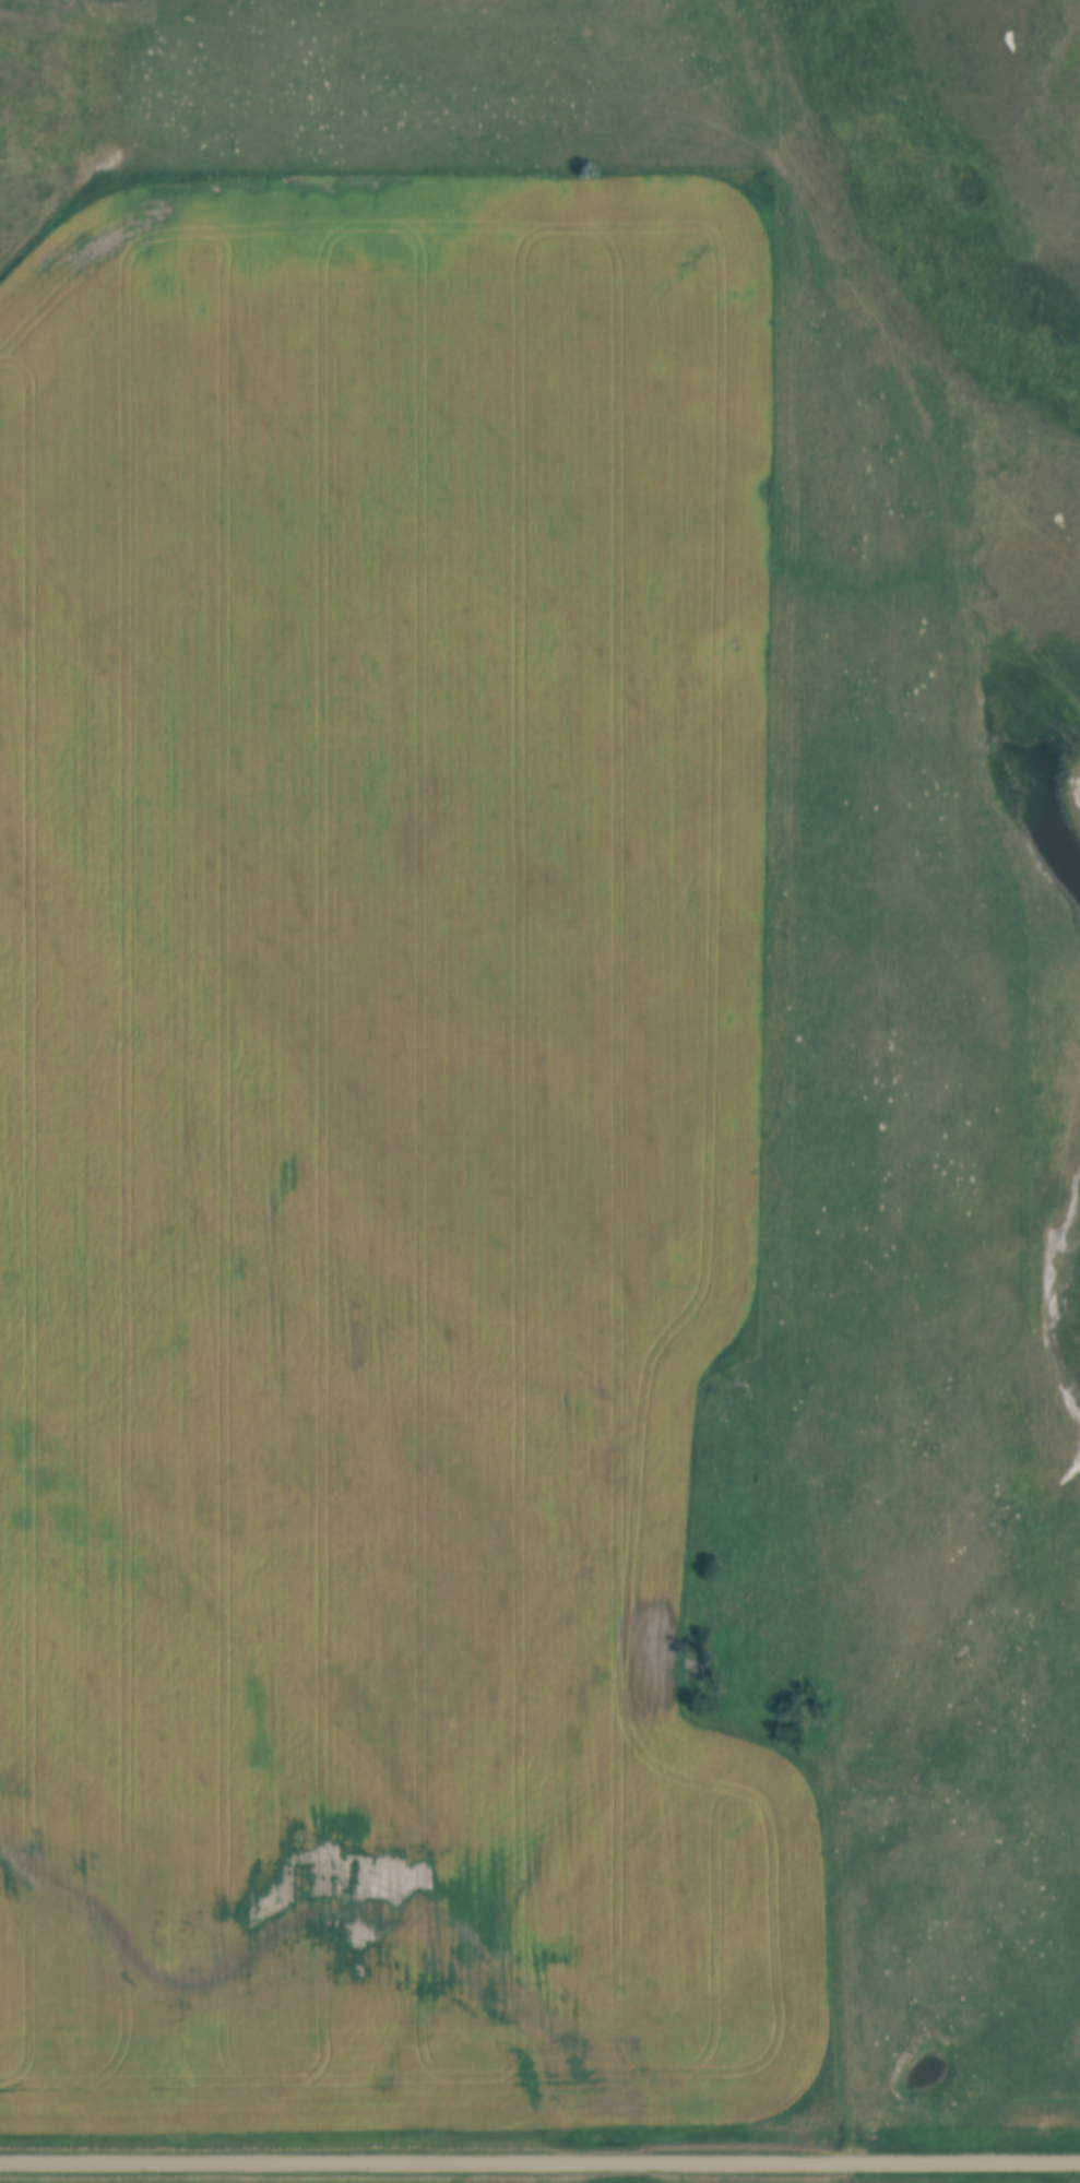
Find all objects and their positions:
road: (539, 2161)

